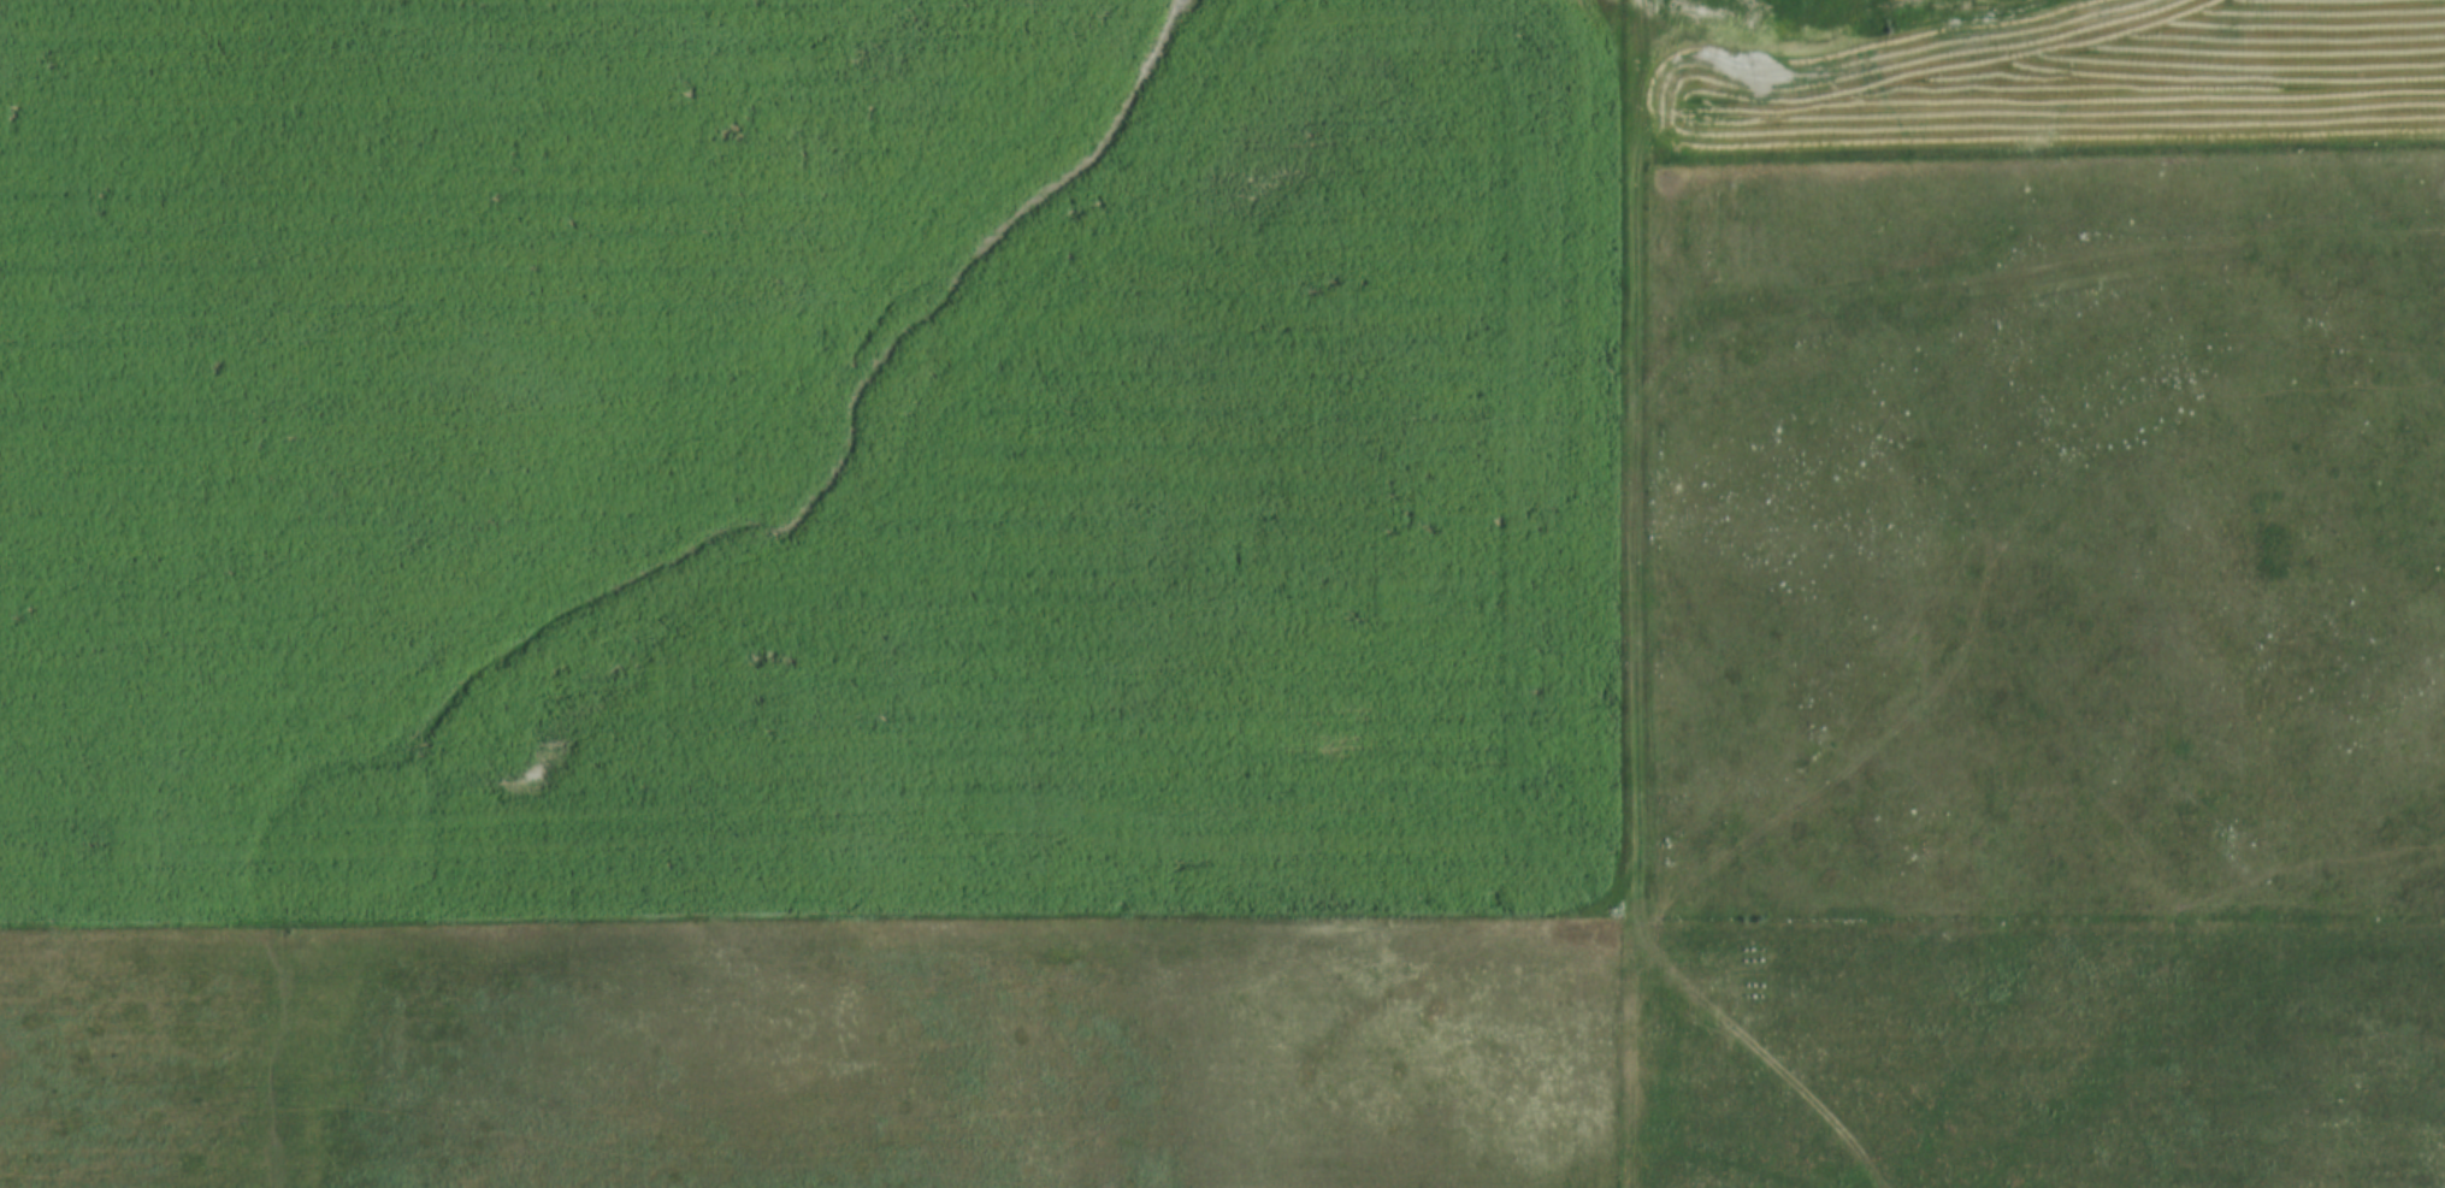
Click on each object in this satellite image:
road: (945, 921)

